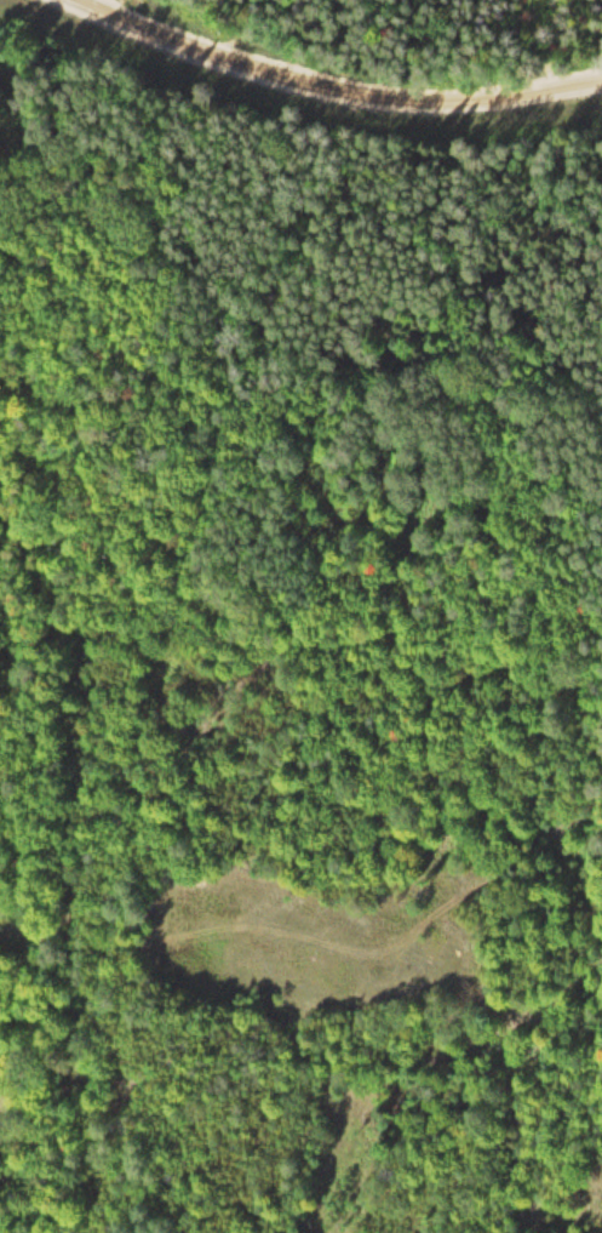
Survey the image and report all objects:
road: (319, 93)

